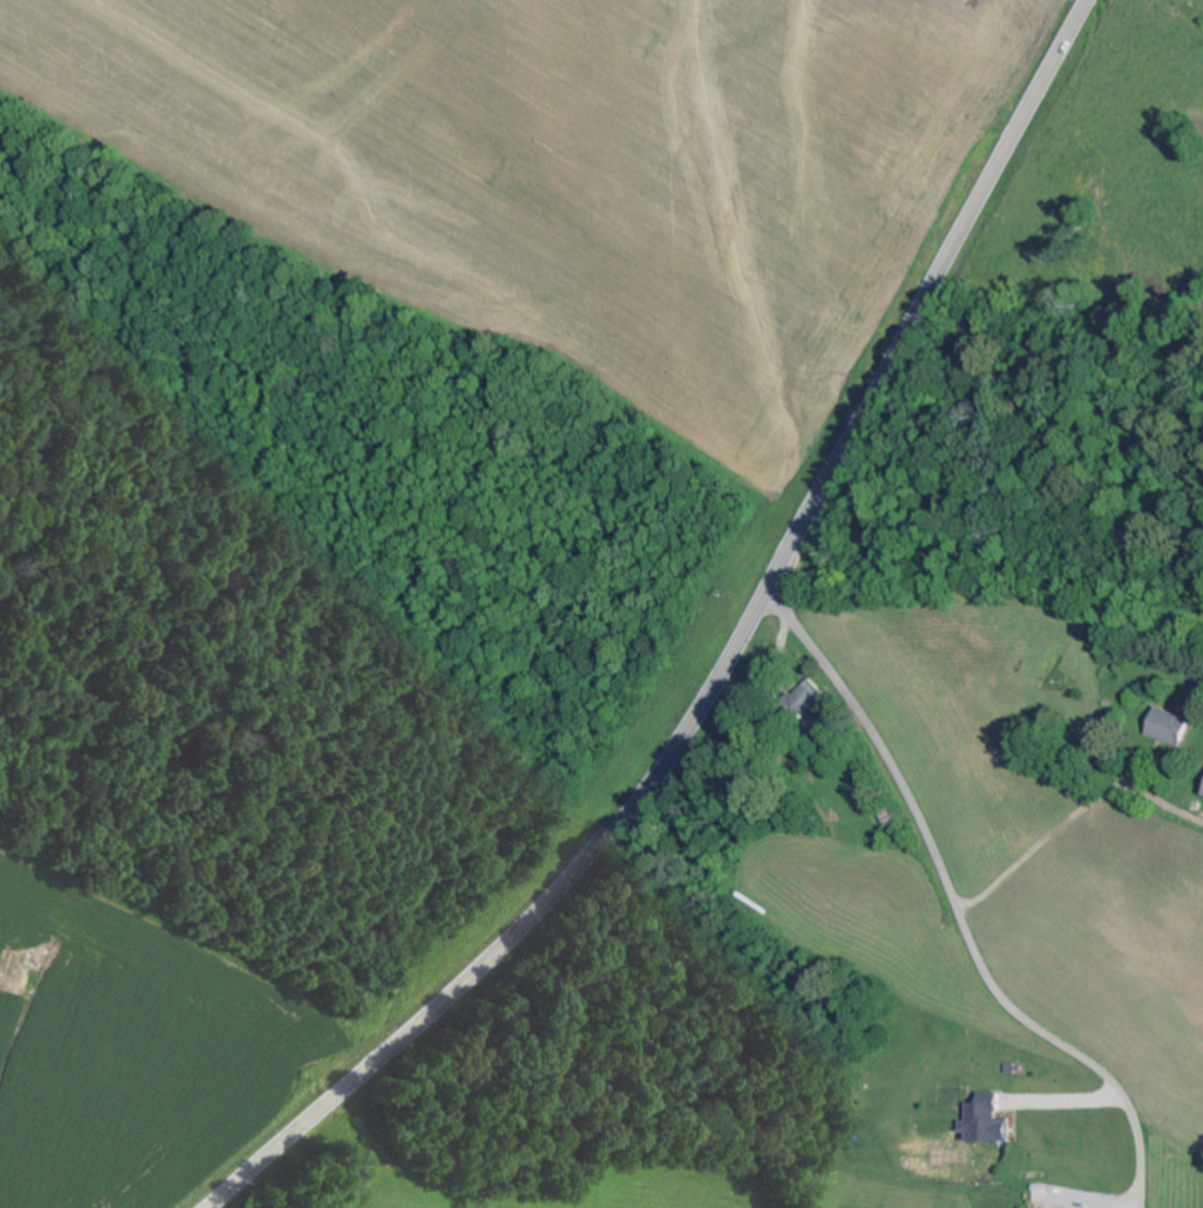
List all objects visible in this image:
road: (726, 662)
building: (807, 698)
building: (1171, 726)
road: (958, 907)
building: (987, 1122)

